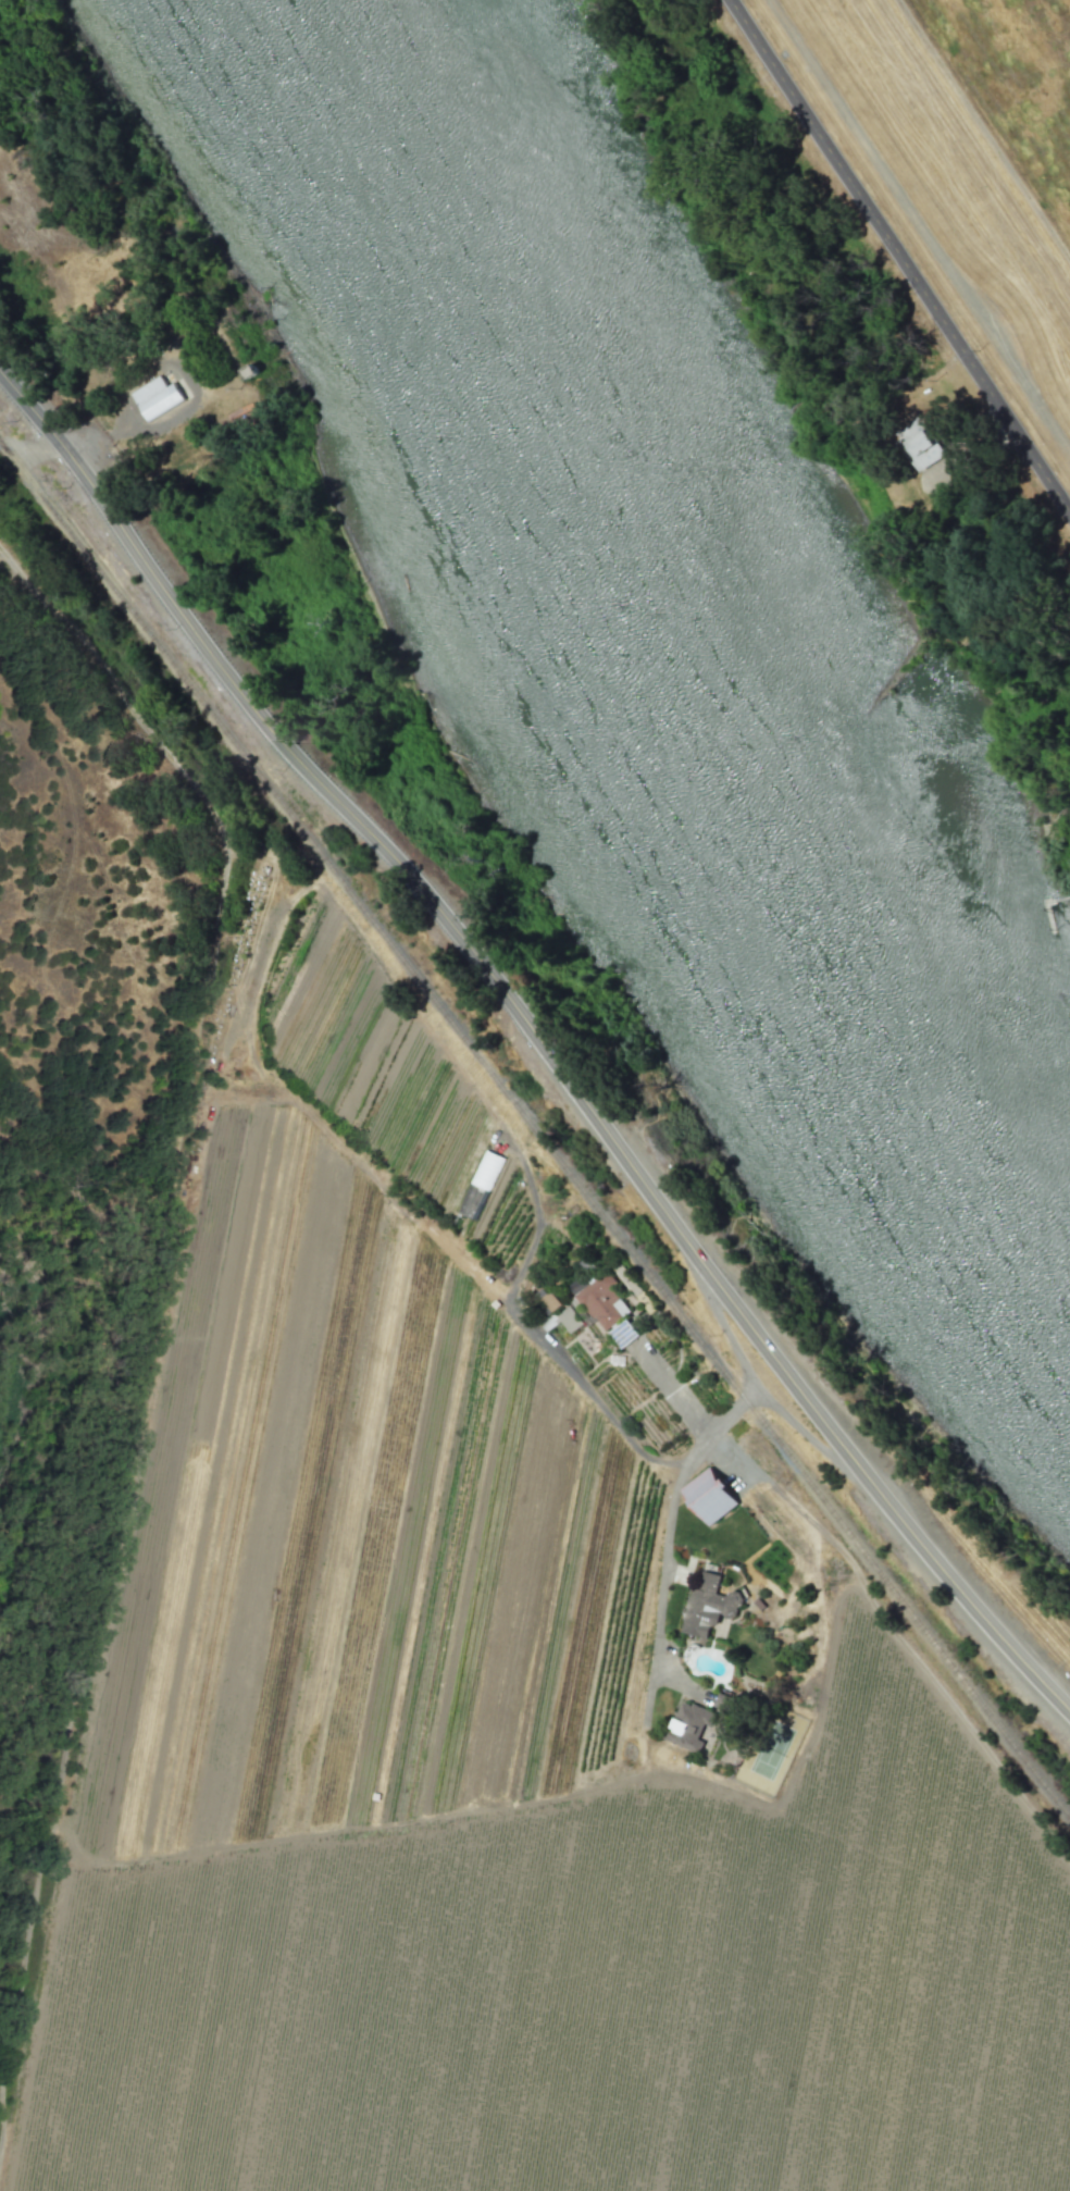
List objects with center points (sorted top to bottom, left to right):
road: (901, 255)
building: (155, 397)
building: (920, 443)
road: (30, 456)
river: (709, 653)
road: (537, 1042)
railway: (535, 1129)
building: (478, 1184)
building: (548, 1302)
road: (150, 1313)
building: (568, 1320)
building: (622, 1333)
road: (560, 1361)
road: (745, 1402)
building: (709, 1495)
road: (663, 1571)
building: (708, 1605)
crop: (486, 1623)
building: (688, 1725)

